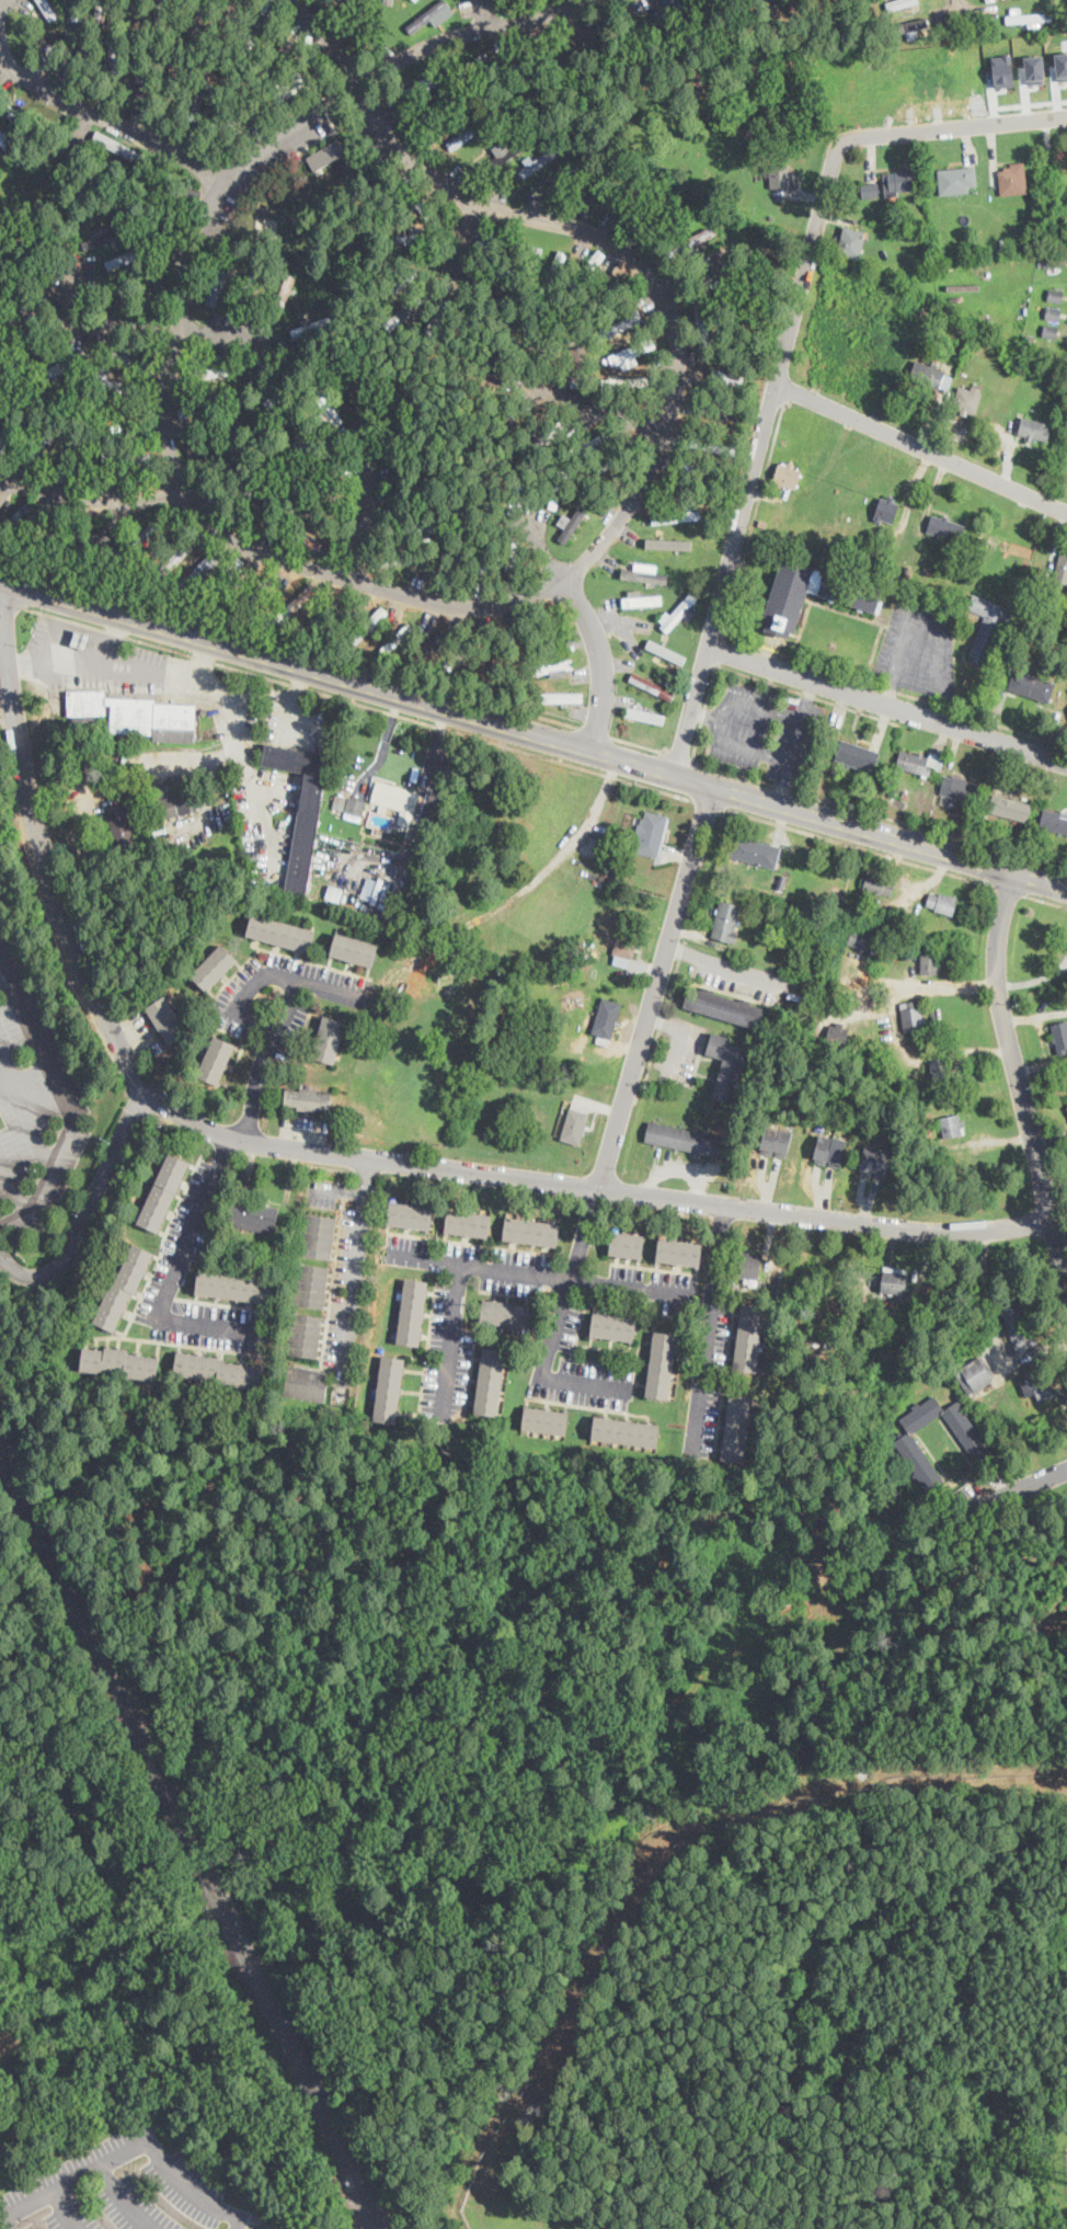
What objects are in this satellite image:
building: (415, 0)
building: (989, 0)
building: (721, 1)
building: (388, 2)
building: (899, 3)
road: (954, 3)
building: (691, 4)
building: (839, 5)
road: (666, 8)
building: (48, 9)
building: (77, 10)
building: (133, 12)
building: (101, 13)
road: (483, 13)
building: (160, 14)
building: (427, 15)
building: (197, 18)
building: (1025, 18)
building: (226, 20)
building: (806, 20)
building: (613, 21)
building: (738, 24)
building: (906, 27)
building: (802, 30)
road: (464, 31)
building: (766, 31)
road: (331, 32)
building: (360, 32)
building: (249, 34)
building: (46, 43)
building: (631, 47)
building: (674, 54)
building: (282, 55)
building: (570, 57)
building: (78, 61)
building: (521, 66)
building: (472, 67)
building: (142, 69)
building: (1001, 70)
building: (114, 72)
building: (174, 79)
building: (537, 81)
building: (418, 84)
building: (290, 87)
building: (199, 91)
building: (439, 107)
building: (16, 119)
building: (238, 121)
road: (107, 126)
road: (79, 128)
road: (955, 129)
building: (468, 135)
building: (5, 141)
building: (365, 141)
building: (116, 147)
building: (514, 148)
building: (328, 157)
building: (538, 161)
building: (112, 170)
building: (565, 171)
building: (779, 176)
building: (1012, 179)
building: (956, 180)
building: (604, 182)
building: (902, 182)
building: (871, 191)
building: (632, 195)
building: (733, 195)
building: (176, 202)
building: (420, 205)
building: (656, 208)
building: (19, 235)
building: (104, 238)
building: (413, 238)
building: (852, 242)
building: (687, 243)
road: (463, 245)
building: (518, 248)
building: (759, 253)
building: (122, 259)
building: (555, 264)
road: (643, 268)
building: (587, 270)
building: (500, 273)
building: (5, 276)
road: (691, 276)
building: (144, 286)
building: (216, 286)
building: (756, 286)
building: (963, 286)
building: (391, 290)
building: (246, 293)
building: (284, 294)
building: (1055, 295)
building: (601, 298)
building: (24, 299)
road: (72, 299)
building: (484, 305)
building: (728, 311)
building: (1053, 313)
building: (401, 315)
road: (90, 320)
building: (437, 320)
building: (702, 321)
building: (620, 323)
building: (314, 325)
building: (1051, 331)
road: (221, 332)
building: (544, 340)
building: (990, 343)
building: (35, 351)
building: (631, 352)
building: (133, 362)
building: (576, 363)
building: (317, 364)
building: (62, 365)
building: (1044, 368)
building: (210, 373)
building: (726, 375)
building: (930, 376)
building: (490, 379)
building: (623, 382)
building: (116, 386)
building: (362, 392)
building: (966, 400)
building: (2, 403)
building: (205, 404)
building: (267, 404)
building: (326, 404)
building: (720, 412)
building: (397, 413)
road: (613, 414)
building: (116, 419)
building: (494, 423)
building: (8, 430)
building: (1033, 430)
building: (549, 432)
building: (213, 439)
building: (42, 443)
building: (597, 444)
road: (923, 445)
building: (709, 446)
building: (583, 448)
building: (73, 449)
building: (315, 449)
building: (125, 457)
building: (410, 457)
building: (616, 458)
road: (758, 458)
road: (174, 460)
building: (539, 462)
building: (226, 464)
building: (707, 471)
building: (524, 476)
building: (788, 476)
building: (490, 478)
building: (315, 482)
building: (415, 490)
building: (553, 492)
road: (87, 493)
building: (243, 494)
building: (272, 503)
building: (471, 506)
building: (887, 511)
building: (675, 515)
building: (19, 516)
building: (315, 518)
road: (360, 518)
building: (576, 519)
building: (761, 523)
building: (67, 527)
building: (411, 527)
building: (945, 528)
building: (95, 537)
building: (139, 538)
building: (310, 545)
building: (665, 545)
road: (539, 546)
building: (456, 551)
building: (512, 553)
building: (485, 558)
building: (174, 560)
building: (405, 560)
building: (1062, 571)
building: (908, 572)
building: (929, 572)
building: (197, 573)
building: (645, 575)
building: (227, 579)
building: (260, 591)
building: (641, 599)
building: (858, 601)
road: (12, 602)
building: (295, 604)
road: (931, 608)
building: (1047, 610)
building: (679, 614)
building: (326, 615)
building: (371, 625)
building: (988, 627)
building: (546, 631)
building: (82, 640)
building: (395, 640)
road: (288, 642)
building: (427, 647)
road: (720, 649)
building: (666, 651)
building: (460, 652)
building: (498, 652)
road: (782, 653)
road: (107, 661)
road: (600, 662)
building: (1058, 663)
building: (550, 667)
building: (1032, 686)
building: (651, 688)
road: (8, 695)
building: (557, 697)
road: (357, 701)
road: (295, 704)
road: (887, 704)
road: (703, 713)
building: (644, 715)
building: (136, 716)
road: (233, 719)
road: (715, 719)
road: (593, 729)
road: (532, 733)
road: (639, 742)
road: (795, 742)
road: (679, 752)
building: (856, 755)
building: (917, 763)
road: (741, 774)
building: (961, 789)
building: (397, 797)
building: (165, 801)
building: (898, 801)
road: (708, 802)
building: (352, 804)
building: (1010, 809)
building: (300, 812)
building: (401, 820)
building: (1054, 822)
building: (121, 825)
building: (977, 826)
building: (652, 834)
road: (860, 845)
building: (756, 851)
building: (616, 875)
building: (782, 882)
building: (880, 885)
road: (1010, 889)
building: (388, 895)
road: (1046, 899)
building: (942, 903)
building: (726, 922)
building: (282, 934)
building: (785, 934)
building: (860, 938)
building: (627, 946)
building: (355, 951)
building: (908, 953)
building: (783, 960)
building: (930, 964)
building: (215, 968)
road: (242, 995)
building: (722, 1005)
road: (1035, 1014)
building: (913, 1017)
building: (167, 1020)
building: (607, 1021)
road: (273, 1024)
building: (838, 1035)
building: (1060, 1037)
building: (330, 1040)
road: (1042, 1049)
building: (216, 1061)
building: (726, 1066)
building: (941, 1068)
road: (1017, 1082)
building: (308, 1100)
road: (67, 1106)
road: (26, 1114)
road: (619, 1114)
building: (575, 1127)
building: (953, 1127)
building: (915, 1130)
building: (686, 1140)
building: (776, 1140)
building: (829, 1150)
road: (328, 1153)
building: (874, 1162)
road: (12, 1187)
building: (163, 1192)
road: (87, 1210)
building: (253, 1216)
building: (411, 1216)
building: (469, 1224)
building: (532, 1233)
building: (318, 1236)
building: (628, 1246)
building: (680, 1253)
building: (747, 1265)
road: (501, 1267)
road: (923, 1270)
road: (174, 1276)
road: (352, 1278)
building: (895, 1281)
building: (781, 1284)
building: (311, 1285)
building: (234, 1287)
building: (124, 1288)
building: (411, 1312)
building: (508, 1314)
road: (713, 1321)
building: (613, 1326)
building: (885, 1329)
building: (1020, 1330)
building: (303, 1335)
building: (748, 1338)
building: (121, 1363)
building: (663, 1365)
building: (219, 1371)
building: (974, 1374)
building: (489, 1382)
building: (306, 1383)
building: (1036, 1383)
building: (389, 1390)
building: (544, 1421)
building: (735, 1428)
building: (624, 1433)
building: (975, 1447)
road: (952, 1518)
railway: (188, 1838)
road: (652, 1885)
road: (126, 2145)
parking lot: (122, 2190)
road: (126, 2196)
road: (64, 2207)
road: (3, 2210)
railway: (381, 2225)
railway: (381, 2225)

